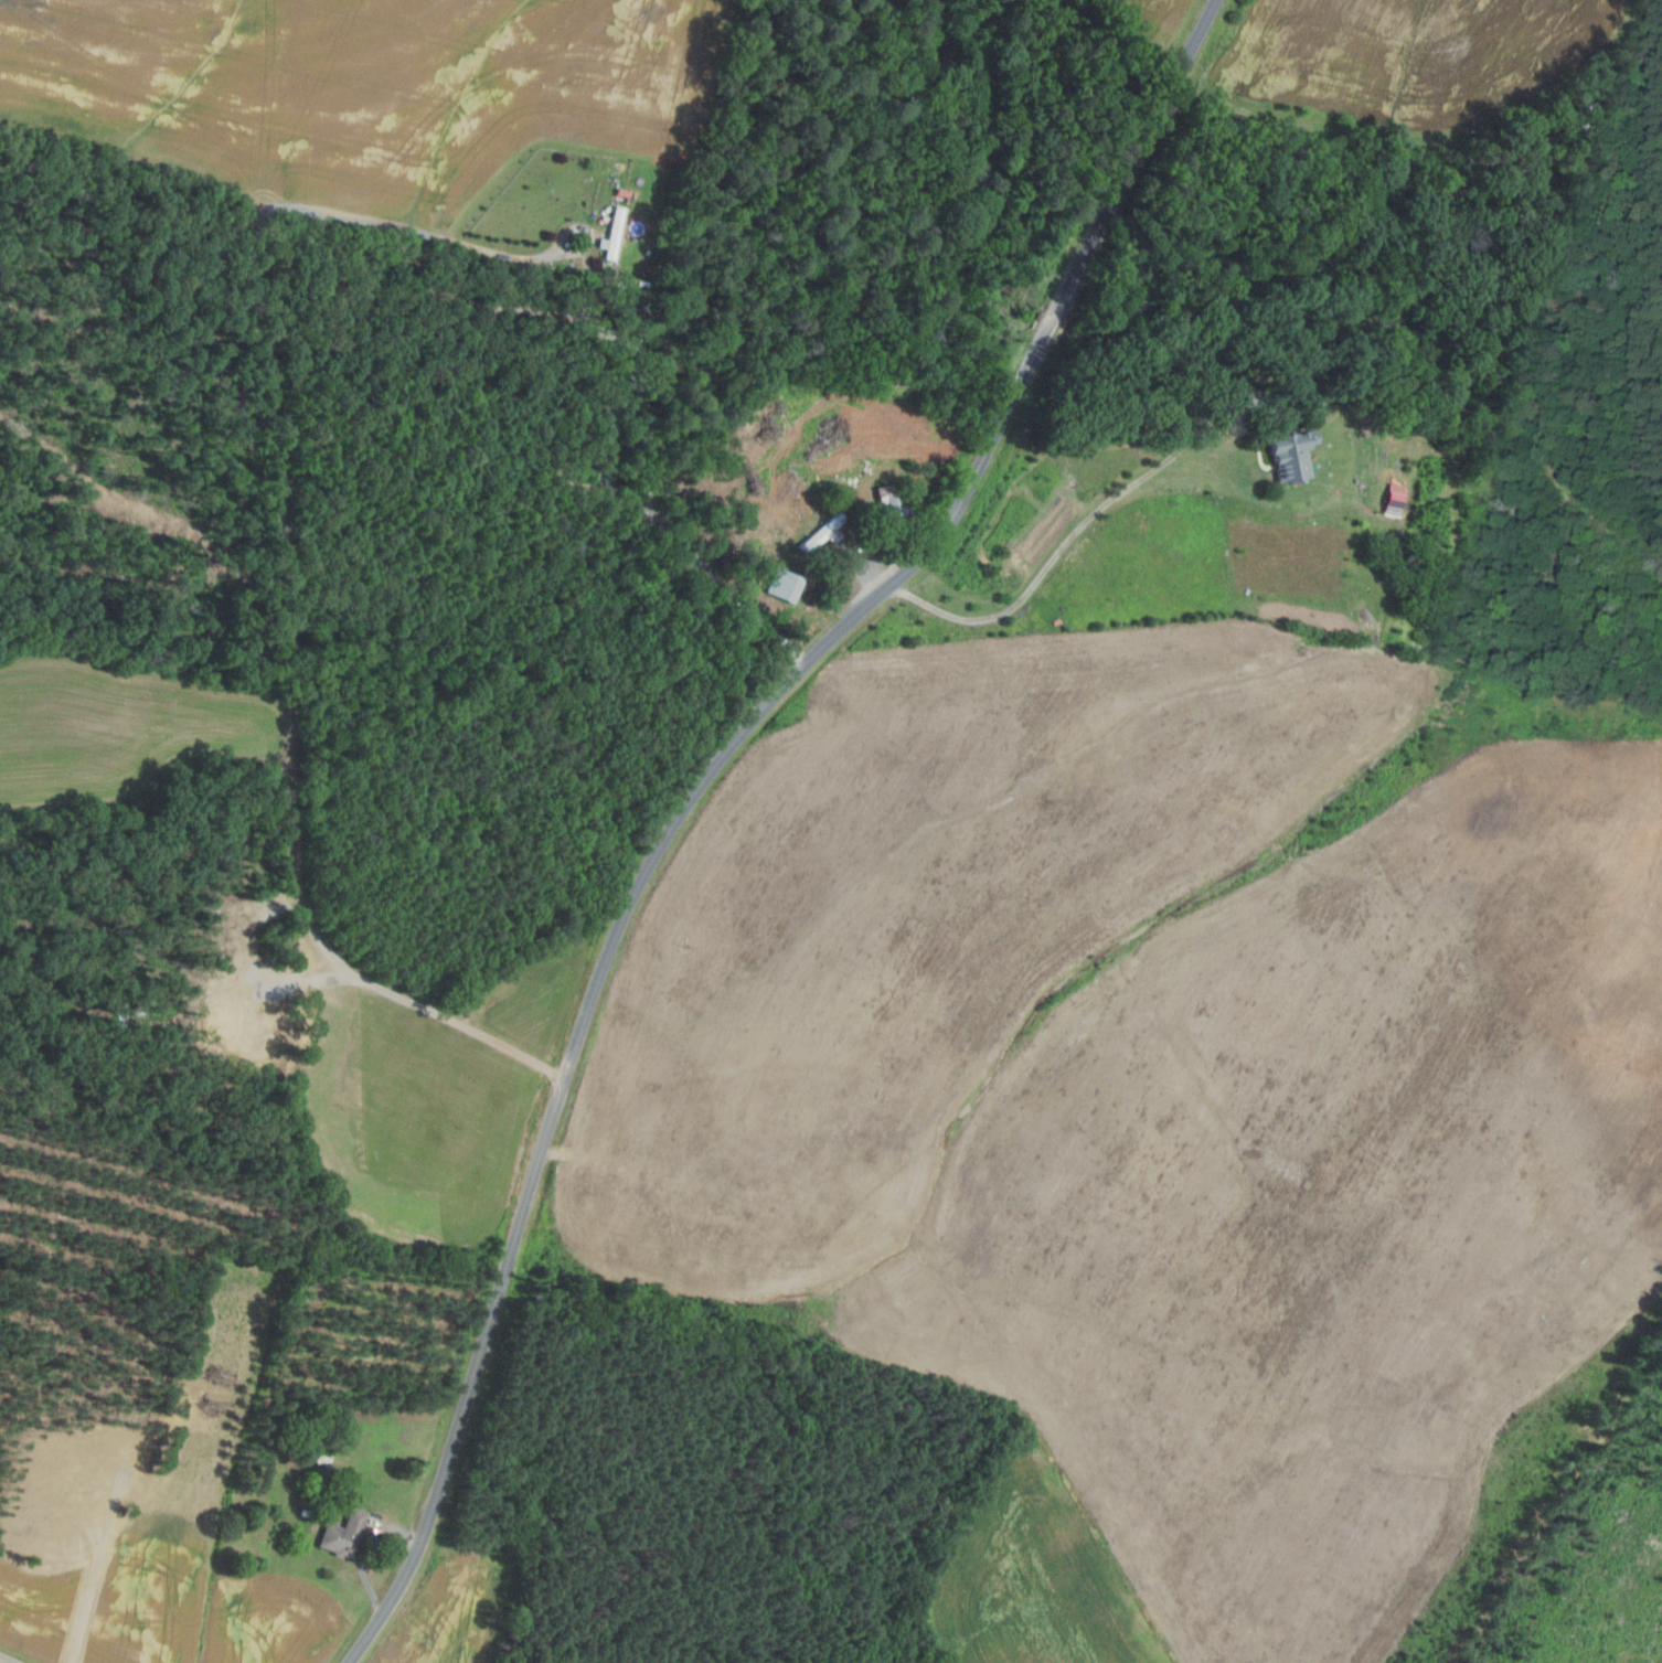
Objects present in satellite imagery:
building: (1581, 110)
road: (1352, 142)
road: (1138, 150)
building: (622, 193)
building: (616, 233)
road: (1050, 322)
building: (1299, 380)
building: (1289, 455)
building: (799, 491)
building: (1391, 500)
building: (894, 501)
road: (1080, 526)
building: (827, 532)
road: (288, 567)
building: (787, 586)
road: (605, 955)
building: (320, 1457)
building: (306, 1512)
building: (344, 1534)
road: (364, 1546)
road: (1, 1662)

